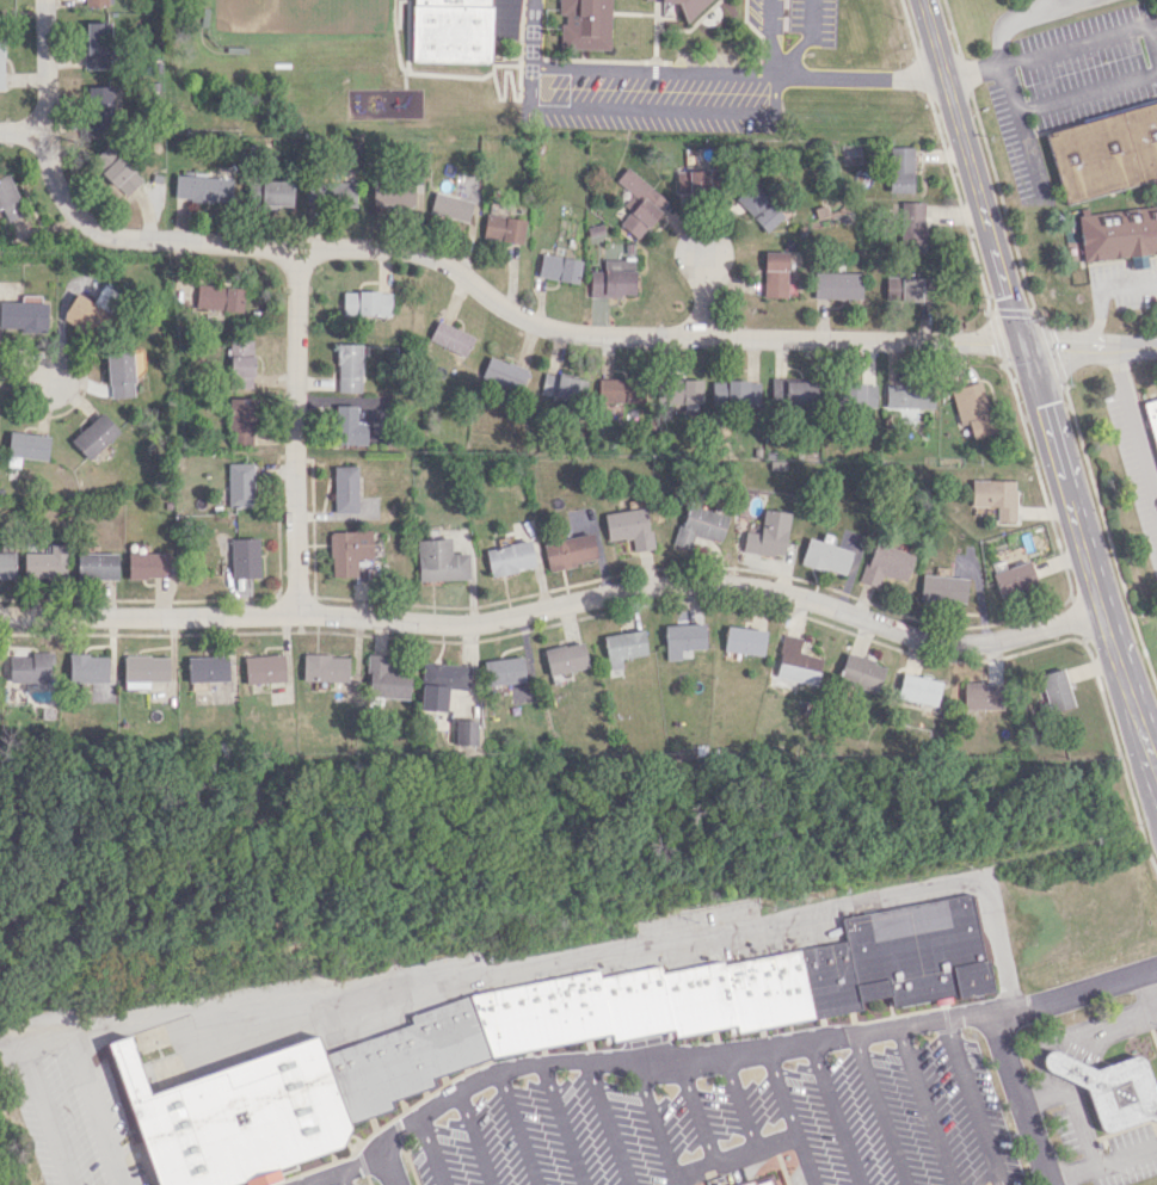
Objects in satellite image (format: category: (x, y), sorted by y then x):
building: (94, 2)
building: (688, 6)
park: (302, 13)
building: (585, 24)
building: (459, 29)
road: (770, 35)
road: (998, 35)
road: (533, 38)
road: (802, 39)
building: (96, 44)
building: (0, 64)
road: (1003, 69)
road: (773, 74)
road: (860, 79)
building: (99, 109)
road: (762, 112)
road: (19, 128)
building: (1104, 152)
building: (900, 168)
building: (115, 169)
building: (693, 179)
building: (201, 187)
building: (330, 192)
building: (392, 192)
building: (273, 193)
building: (8, 199)
building: (638, 202)
building: (448, 205)
building: (758, 205)
building: (911, 224)
building: (501, 228)
building: (1118, 232)
building: (556, 267)
building: (774, 273)
building: (892, 284)
building: (837, 285)
building: (911, 289)
road: (1102, 290)
road: (703, 291)
building: (217, 298)
building: (364, 303)
road: (496, 304)
building: (90, 310)
building: (23, 315)
building: (450, 338)
building: (135, 359)
building: (239, 363)
building: (347, 366)
road: (23, 370)
building: (118, 374)
building: (503, 374)
building: (559, 384)
road: (1036, 387)
building: (734, 391)
building: (788, 391)
building: (861, 394)
building: (613, 395)
building: (909, 400)
building: (971, 408)
building: (1152, 418)
building: (239, 420)
building: (347, 426)
road: (1133, 426)
road: (294, 431)
building: (93, 434)
building: (25, 446)
building: (239, 485)
building: (344, 488)
building: (995, 496)
building: (697, 525)
building: (627, 526)
building: (765, 533)
building: (346, 550)
building: (568, 550)
building: (823, 556)
building: (242, 557)
building: (509, 557)
building: (438, 561)
building: (45, 562)
building: (884, 563)
building: (6, 564)
building: (96, 564)
building: (147, 564)
building: (1014, 578)
building: (942, 588)
road: (558, 605)
building: (743, 640)
building: (622, 647)
building: (565, 658)
building: (794, 662)
building: (30, 667)
building: (87, 667)
building: (324, 667)
building: (207, 668)
building: (263, 668)
building: (143, 669)
building: (503, 671)
building: (860, 672)
building: (384, 678)
building: (441, 684)
building: (917, 689)
building: (1054, 690)
building: (980, 696)
building: (464, 732)
road: (567, 959)
road: (1150, 987)
parking lot: (1156, 1033)
building: (531, 1037)
road: (1101, 1042)
road: (1069, 1051)
road: (743, 1053)
road: (1084, 1060)
road: (1072, 1062)
road: (1052, 1063)
building: (1066, 1067)
building: (1121, 1093)
road: (1020, 1099)
road: (974, 1103)
road: (741, 1104)
parking lot: (73, 1105)
road: (927, 1106)
road: (1073, 1109)
road: (101, 1110)
road: (881, 1110)
road: (697, 1112)
road: (836, 1113)
road: (51, 1115)
road: (792, 1117)
road: (657, 1122)
road: (609, 1123)
road: (564, 1124)
parking lot: (740, 1128)
road: (517, 1129)
road: (476, 1137)
parking lot: (1106, 1147)
road: (433, 1150)
road: (738, 1158)
road: (1104, 1167)
road: (343, 1172)
parking lot: (333, 1175)
road: (341, 1179)
building: (762, 1181)

